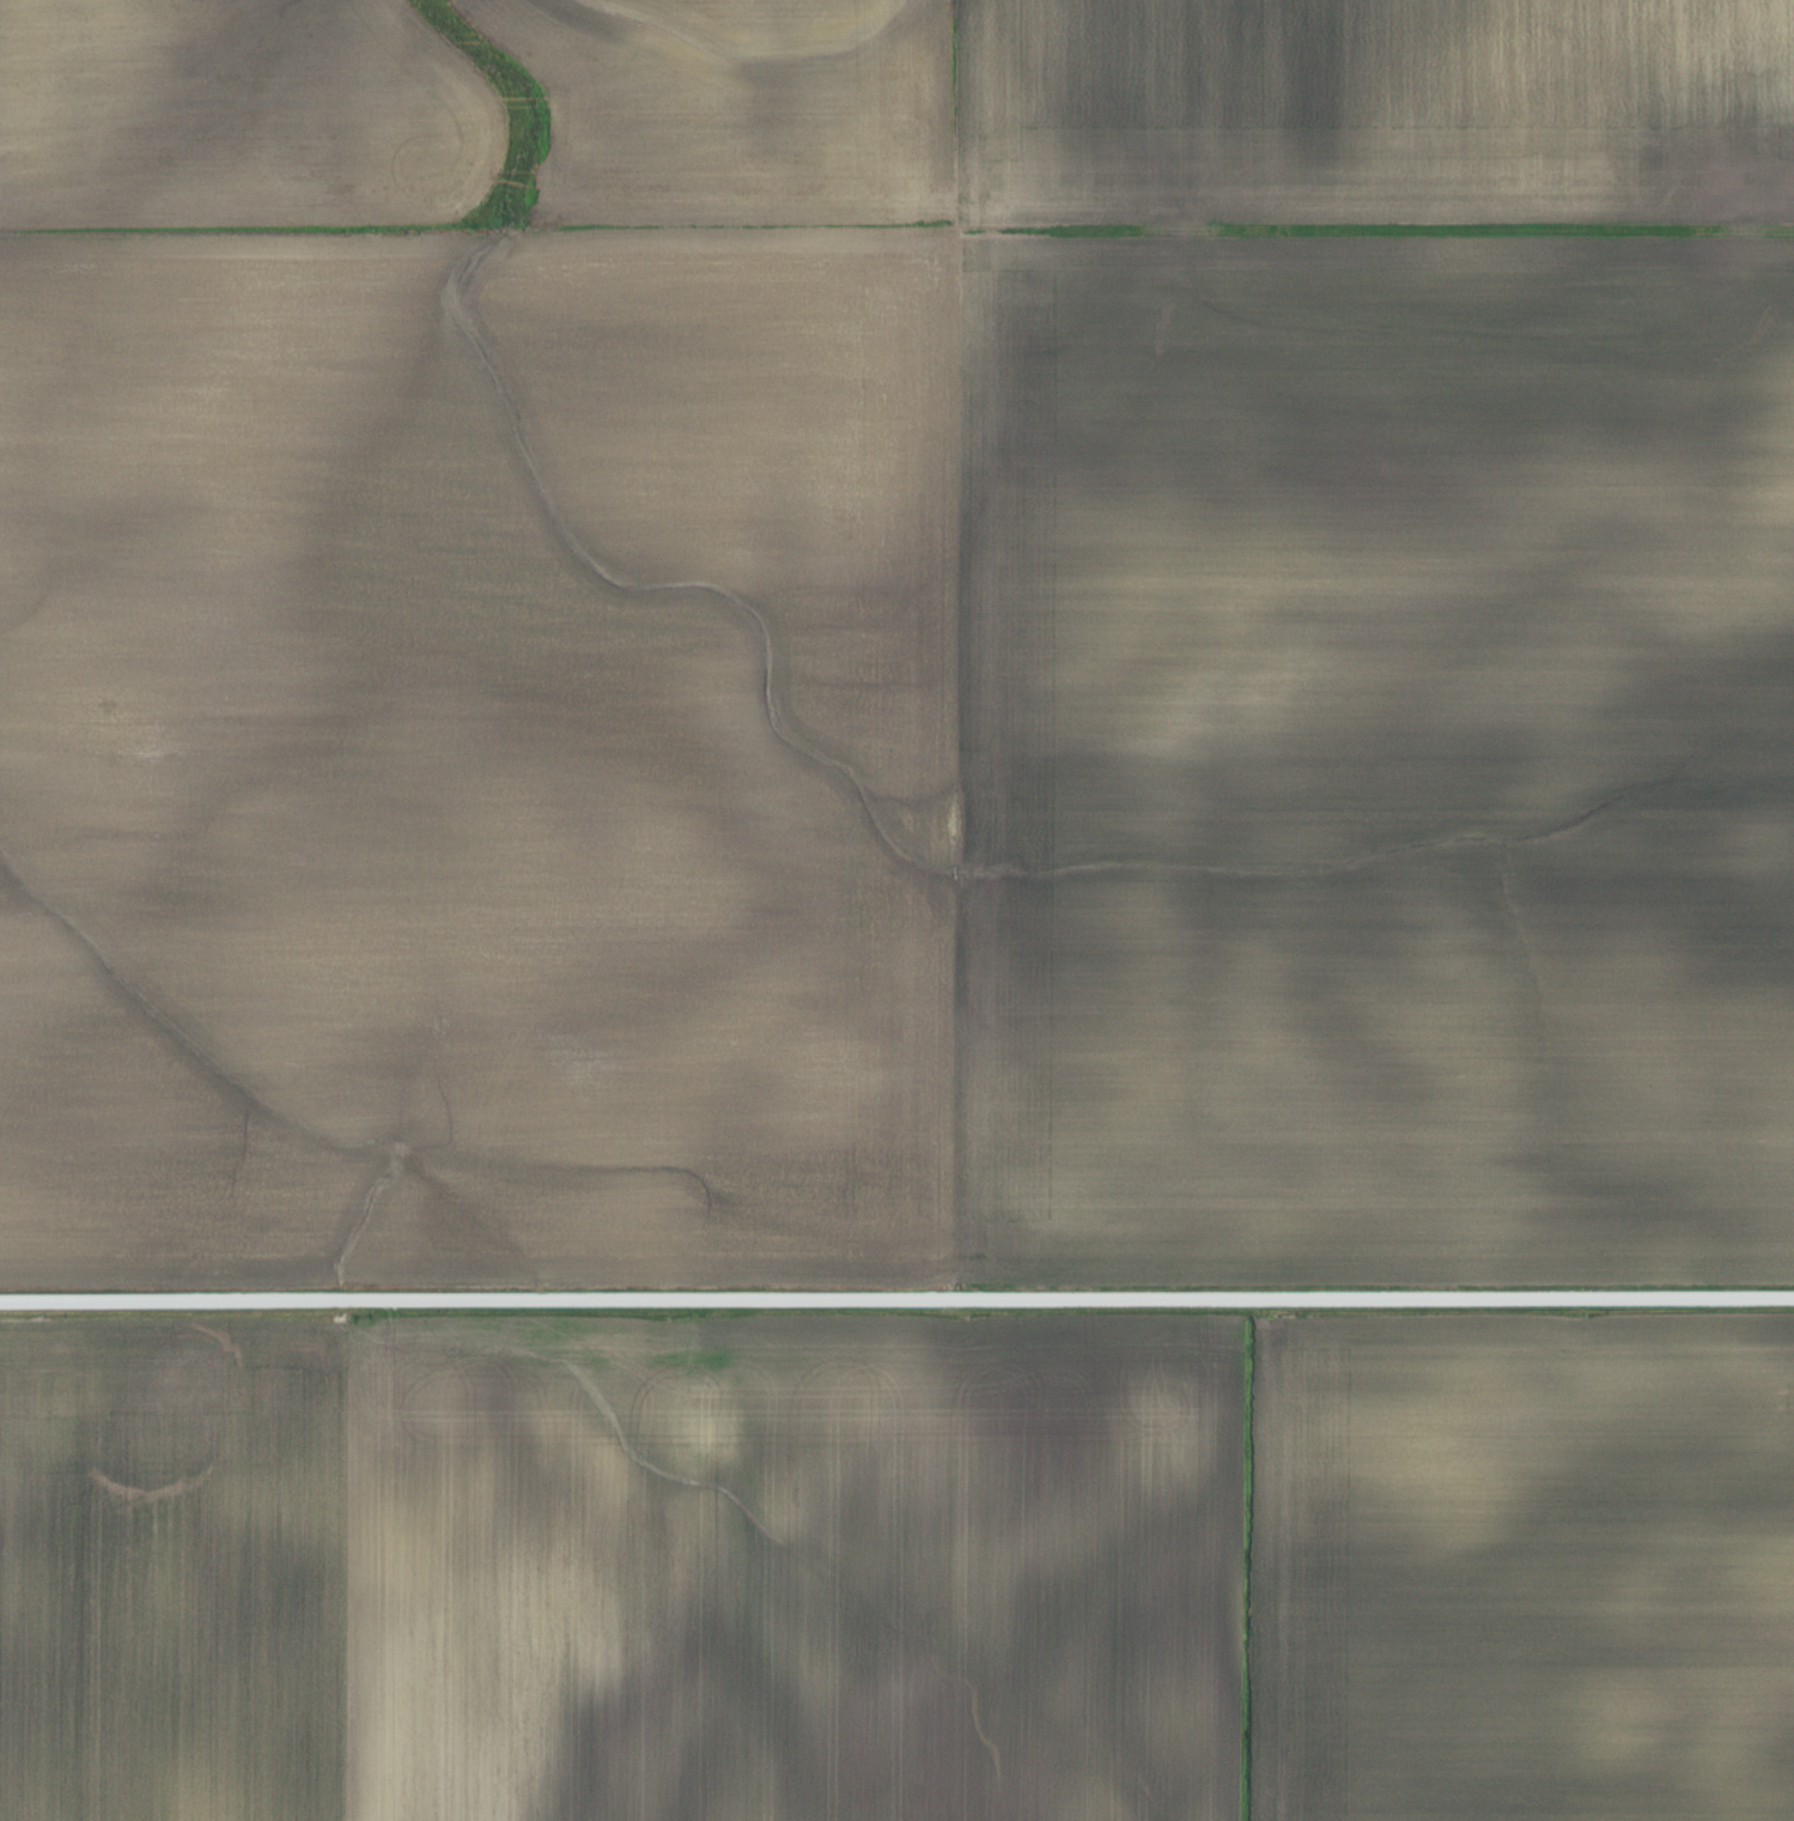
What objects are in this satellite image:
road: (896, 1300)

